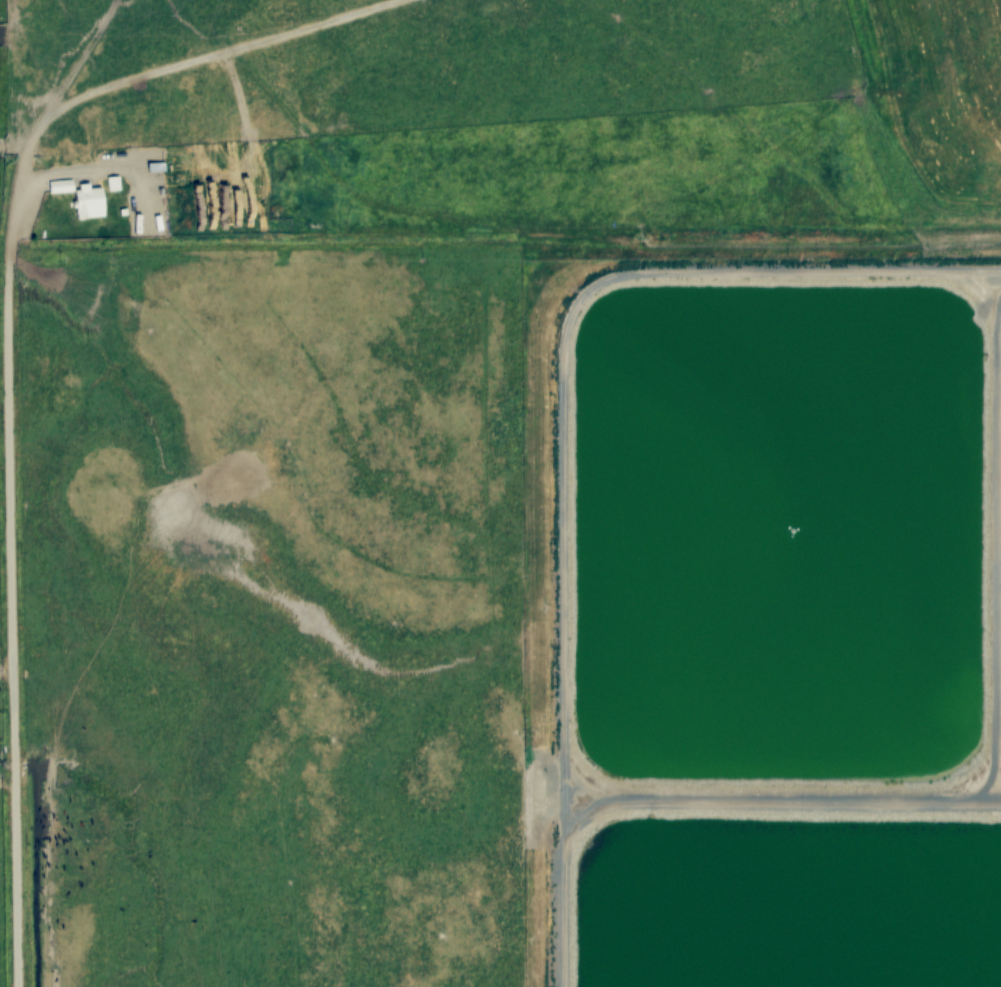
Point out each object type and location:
building: (216, 173)
building: (84, 199)
building: (246, 220)
road: (28, 353)
wastewater plant: (764, 620)

